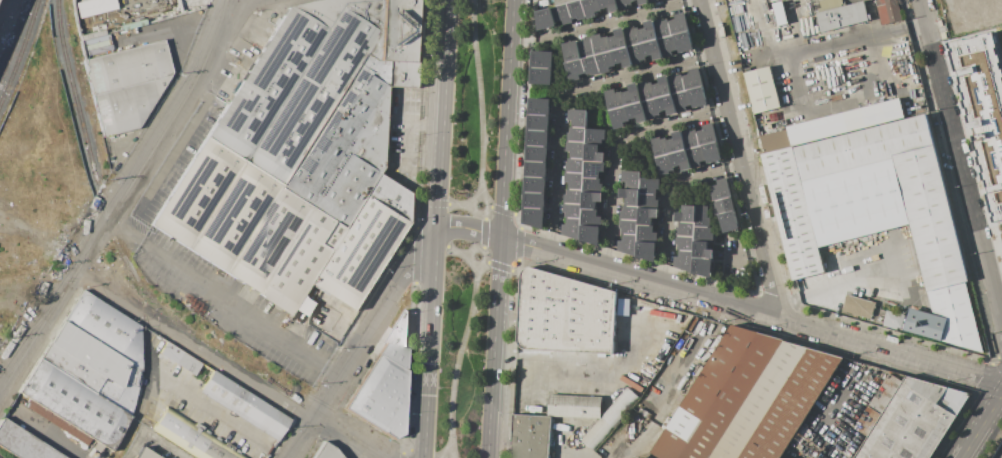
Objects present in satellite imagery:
road: (231, 0)
building: (633, 0)
building: (774, 0)
building: (653, 1)
building: (562, 2)
building: (644, 2)
building: (625, 4)
building: (830, 4)
building: (610, 5)
building: (94, 6)
building: (591, 7)
building: (577, 10)
building: (888, 11)
building: (780, 13)
building: (562, 14)
building: (843, 16)
crop: (971, 16)
building: (547, 18)
road: (610, 24)
building: (679, 24)
building: (663, 28)
road: (169, 32)
building: (649, 32)
railway: (15, 36)
building: (632, 36)
building: (619, 40)
building: (685, 42)
building: (601, 44)
building: (668, 45)
building: (586, 47)
railway: (19, 49)
building: (653, 49)
building: (572, 50)
building: (637, 53)
building: (623, 56)
building: (543, 59)
building: (605, 61)
building: (591, 65)
building: (127, 66)
building: (575, 69)
building: (543, 76)
building: (693, 79)
building: (677, 83)
building: (663, 87)
building: (762, 89)
building: (647, 91)
building: (633, 95)
railway: (74, 96)
road: (568, 97)
building: (699, 97)
road: (481, 98)
building: (326, 99)
building: (615, 99)
building: (682, 101)
building: (667, 104)
building: (126, 105)
building: (541, 106)
building: (651, 108)
building: (983, 108)
park: (476, 109)
building: (637, 111)
building: (619, 116)
building: (578, 117)
building: (540, 122)
building: (845, 123)
road: (427, 124)
building: (578, 134)
building: (707, 134)
building: (596, 136)
building: (539, 138)
building: (691, 138)
building: (775, 141)
building: (677, 143)
building: (660, 146)
building: (863, 147)
road: (181, 148)
road: (620, 148)
building: (577, 149)
road: (406, 151)
building: (713, 152)
building: (539, 153)
building: (594, 153)
building: (696, 156)
building: (681, 159)
road: (745, 159)
road: (425, 160)
building: (665, 164)
building: (576, 165)
road: (960, 165)
building: (538, 169)
building: (594, 169)
building: (575, 180)
building: (632, 180)
building: (537, 184)
building: (593, 185)
building: (650, 185)
building: (721, 189)
building: (631, 196)
building: (574, 197)
road: (120, 198)
road: (674, 199)
building: (536, 200)
building: (591, 200)
building: (649, 201)
road: (458, 205)
building: (723, 206)
road: (498, 210)
building: (573, 210)
building: (630, 213)
building: (687, 213)
building: (793, 213)
road: (514, 214)
road: (480, 215)
building: (647, 216)
building: (703, 216)
building: (535, 217)
building: (591, 217)
building: (930, 217)
building: (729, 221)
railway: (109, 222)
building: (250, 226)
building: (629, 227)
building: (573, 228)
road: (442, 229)
road: (507, 229)
road: (521, 229)
building: (686, 229)
road: (484, 233)
building: (591, 234)
building: (647, 234)
building: (704, 234)
road: (990, 234)
crop: (1001, 235)
building: (370, 243)
building: (685, 243)
building: (629, 244)
building: (647, 250)
building: (703, 250)
road: (455, 253)
road: (753, 256)
road: (484, 259)
building: (685, 260)
building: (703, 266)
road: (500, 267)
road: (839, 280)
road: (722, 300)
road: (224, 301)
building: (308, 306)
building: (858, 306)
railway: (165, 308)
building: (564, 314)
building: (894, 320)
building: (925, 324)
building: (105, 327)
road: (367, 342)
building: (397, 343)
park: (462, 350)
railway: (149, 355)
road: (458, 359)
road: (233, 361)
road: (604, 362)
building: (188, 363)
building: (93, 366)
road: (673, 390)
building: (380, 397)
building: (749, 399)
railway: (324, 403)
building: (74, 404)
railway: (303, 405)
building: (878, 405)
building: (244, 406)
building: (574, 406)
road: (831, 413)
road: (215, 416)
building: (610, 418)
building: (914, 421)
road: (981, 425)
building: (531, 436)
building: (193, 437)
building: (23, 443)
building: (325, 452)
road: (370, 453)
building: (145, 454)
road: (446, 454)

